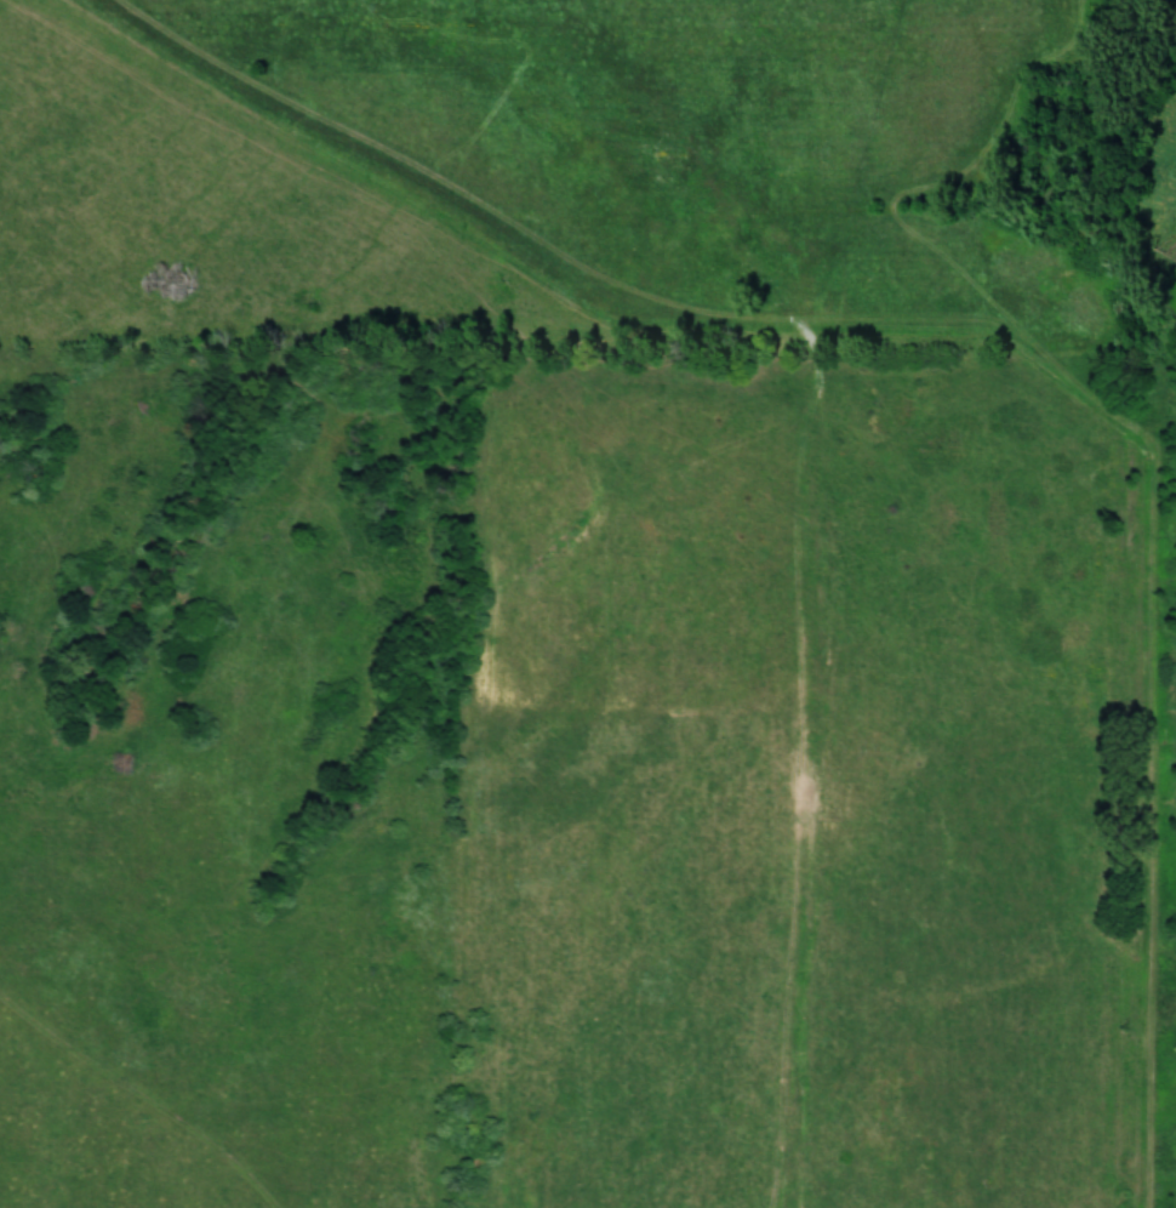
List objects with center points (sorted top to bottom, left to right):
road: (994, 261)
road: (1148, 841)

